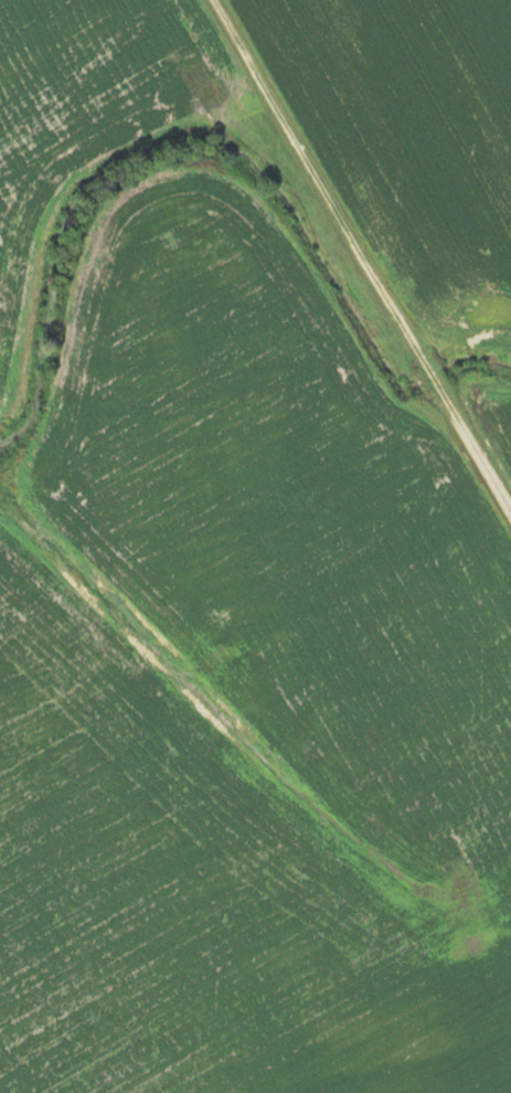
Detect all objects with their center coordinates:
road: (362, 261)

